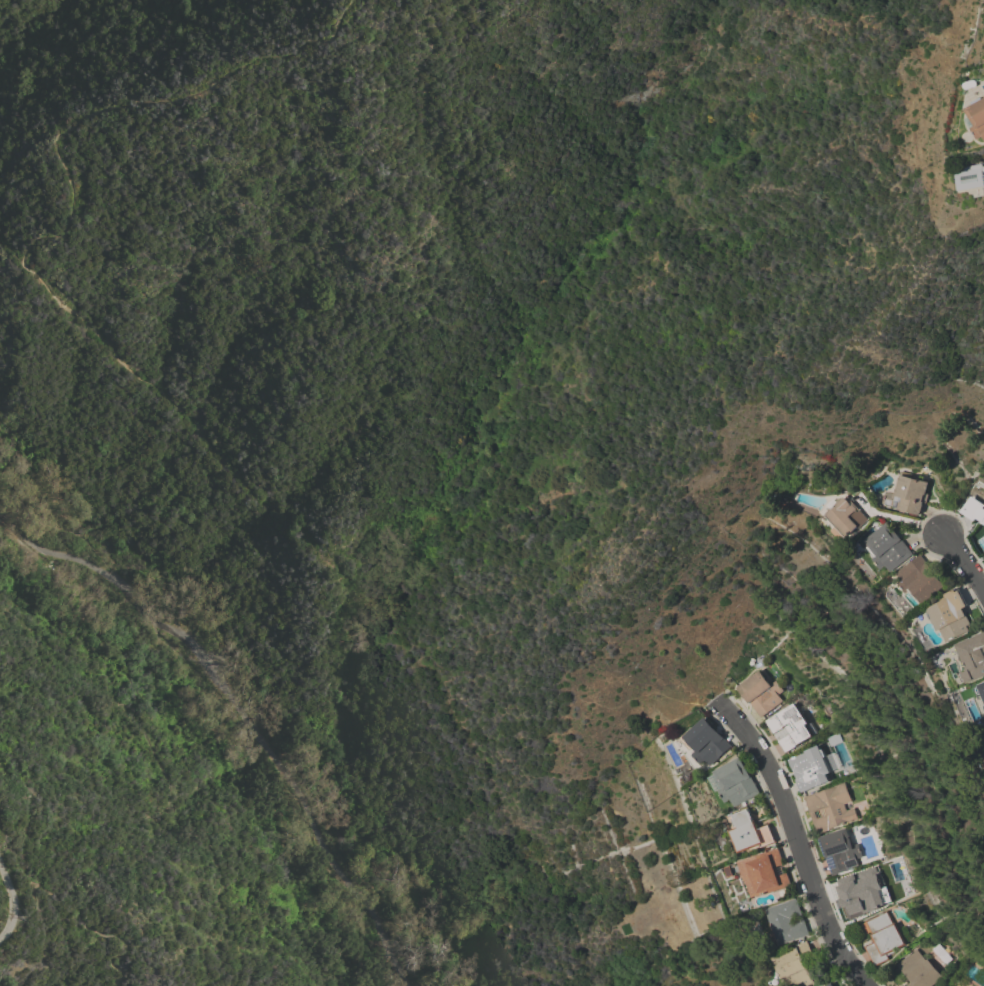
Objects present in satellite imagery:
building: (971, 85)
building: (977, 119)
building: (970, 176)
road: (32, 253)
building: (907, 494)
building: (974, 511)
building: (845, 518)
road: (897, 520)
building: (888, 548)
road: (965, 559)
building: (920, 580)
building: (966, 594)
building: (951, 615)
building: (972, 658)
building: (979, 692)
building: (761, 694)
road: (245, 713)
building: (790, 728)
building: (706, 743)
building: (813, 769)
road: (163, 779)
building: (735, 783)
building: (830, 808)
building: (751, 833)
road: (797, 840)
building: (840, 851)
building: (766, 874)
building: (858, 894)
road: (11, 901)
road: (83, 921)
building: (788, 922)
building: (884, 938)
building: (796, 965)
building: (919, 970)
building: (831, 985)

